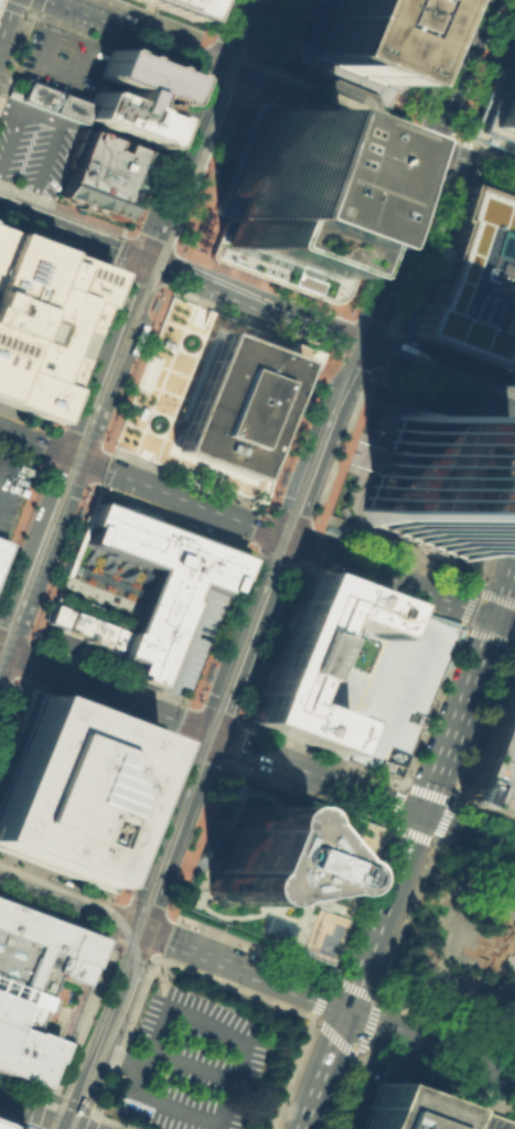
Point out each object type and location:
building: (173, 7)
road: (305, 9)
road: (6, 15)
road: (155, 19)
road: (211, 19)
fountain: (299, 26)
road: (262, 28)
road: (281, 31)
road: (232, 33)
road: (432, 33)
building: (366, 34)
road: (111, 43)
road: (408, 45)
road: (227, 47)
road: (14, 53)
parking lot: (60, 61)
road: (440, 61)
road: (42, 65)
traffic signals: (221, 66)
road: (489, 68)
road: (335, 71)
road: (242, 74)
road: (246, 74)
road: (465, 74)
road: (199, 76)
road: (353, 89)
road: (334, 93)
building: (132, 96)
building: (49, 100)
railway: (239, 100)
road: (10, 106)
building: (502, 107)
road: (55, 125)
road: (322, 125)
road: (458, 136)
road: (410, 139)
parking lot: (33, 146)
road: (489, 146)
traffic signals: (438, 149)
road: (160, 152)
road: (476, 162)
road: (182, 164)
road: (427, 165)
building: (100, 172)
road: (210, 172)
road: (483, 186)
building: (292, 201)
road: (64, 206)
road: (60, 229)
road: (376, 235)
road: (153, 240)
road: (400, 247)
road: (57, 248)
road: (419, 251)
road: (132, 258)
parking lot: (221, 262)
traffic signals: (146, 264)
road: (159, 267)
road: (172, 270)
road: (264, 282)
building: (473, 283)
road: (255, 304)
railway: (344, 307)
building: (42, 321)
road: (367, 321)
road: (248, 322)
railway: (128, 332)
road: (339, 333)
road: (351, 341)
traffic signals: (363, 346)
road: (86, 348)
road: (372, 348)
road: (380, 350)
road: (451, 353)
road: (108, 359)
road: (353, 362)
road: (135, 367)
road: (432, 372)
road: (444, 396)
building: (215, 397)
road: (500, 397)
flagpole: (157, 404)
flagpole: (163, 406)
flagpole: (171, 408)
road: (441, 408)
road: (29, 416)
road: (505, 420)
road: (383, 423)
road: (299, 430)
road: (81, 436)
road: (23, 437)
road: (3, 440)
road: (325, 441)
road: (49, 445)
road: (344, 445)
traffic signals: (72, 455)
road: (73, 455)
road: (20, 456)
road: (98, 465)
road: (65, 473)
road: (66, 475)
road: (185, 475)
road: (4, 476)
road: (139, 481)
building: (438, 483)
parking lot: (11, 490)
road: (357, 491)
road: (506, 499)
road: (498, 504)
road: (506, 510)
road: (219, 512)
road: (172, 516)
road: (20, 520)
road: (313, 524)
road: (365, 525)
road: (273, 531)
road: (495, 537)
traffic signals: (290, 538)
road: (298, 541)
road: (401, 545)
building: (1, 546)
road: (394, 552)
road: (427, 553)
road: (276, 557)
road: (63, 561)
railway: (271, 564)
road: (29, 569)
road: (400, 580)
building: (161, 588)
road: (481, 590)
road: (505, 591)
road: (379, 594)
building: (57, 615)
traffic signals: (496, 616)
road: (505, 620)
road: (222, 625)
road: (421, 627)
building: (87, 628)
road: (193, 631)
road: (17, 632)
road: (481, 632)
road: (253, 635)
road: (269, 643)
road: (513, 643)
building: (111, 647)
road: (147, 649)
road: (25, 658)
road: (174, 660)
road: (108, 671)
building: (352, 671)
road: (122, 676)
road: (9, 677)
road: (175, 677)
road: (339, 691)
road: (165, 702)
road: (431, 702)
road: (9, 703)
road: (96, 710)
road: (215, 711)
road: (481, 720)
road: (181, 721)
road: (211, 732)
traffic signals: (216, 734)
road: (233, 742)
road: (321, 751)
road: (199, 752)
building: (495, 755)
parking lot: (495, 755)
road: (337, 766)
road: (412, 784)
building: (71, 787)
road: (305, 794)
road: (191, 799)
road: (205, 810)
road: (483, 810)
road: (421, 813)
traffic signals: (422, 813)
road: (144, 818)
road: (468, 830)
road: (195, 838)
road: (423, 838)
building: (210, 843)
road: (210, 843)
road: (474, 856)
building: (255, 859)
road: (437, 859)
road: (185, 864)
railway: (47, 873)
road: (57, 875)
road: (66, 883)
road: (117, 896)
road: (53, 897)
road: (152, 897)
road: (358, 899)
road: (405, 918)
road: (125, 923)
traffic signals: (141, 931)
road: (150, 934)
road: (455, 938)
road: (415, 942)
road: (249, 944)
park: (461, 946)
fountain: (500, 947)
railway: (133, 963)
road: (105, 969)
road: (158, 971)
road: (389, 983)
building: (32, 985)
road: (366, 991)
road: (506, 992)
road: (336, 1004)
road: (373, 1007)
road: (161, 1008)
road: (288, 1008)
traffic signals: (347, 1009)
road: (315, 1010)
road: (446, 1023)
road: (104, 1028)
road: (122, 1034)
road: (363, 1037)
road: (399, 1053)
road: (115, 1063)
parking lot: (186, 1064)
road: (190, 1065)
road: (324, 1068)
road: (436, 1073)
road: (61, 1077)
road: (496, 1089)
road: (342, 1094)
building: (414, 1108)
road: (33, 1111)
road: (33, 1117)
road: (89, 1121)
road: (112, 1121)
traffic signals: (67, 1125)
building: (4, 1126)
road: (223, 1126)
road: (66, 1127)
road: (72, 1127)

